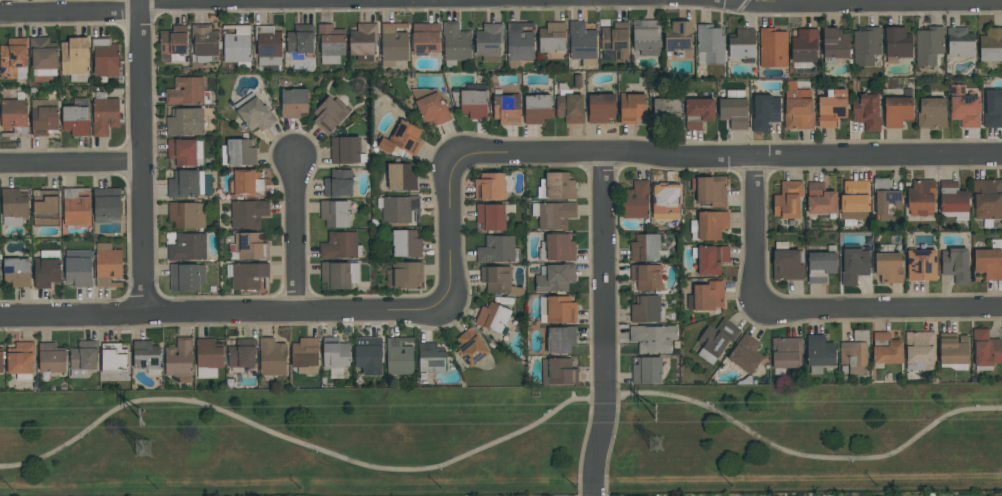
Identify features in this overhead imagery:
road: (587, 0)
road: (740, 2)
road: (757, 3)
road: (70, 13)
building: (646, 37)
building: (552, 38)
building: (425, 39)
building: (678, 39)
building: (616, 40)
building: (362, 41)
building: (489, 41)
building: (204, 42)
building: (298, 42)
building: (455, 42)
building: (959, 42)
building: (330, 43)
building: (393, 43)
building: (518, 43)
building: (582, 43)
building: (173, 44)
building: (709, 44)
building: (897, 44)
building: (237, 45)
building: (268, 45)
building: (741, 45)
building: (834, 45)
building: (991, 45)
building: (865, 46)
building: (928, 46)
building: (773, 48)
building: (804, 48)
building: (43, 55)
building: (13, 57)
building: (105, 57)
building: (75, 58)
building: (187, 91)
building: (473, 101)
building: (293, 103)
building: (569, 105)
building: (430, 106)
building: (506, 107)
building: (601, 107)
building: (632, 107)
building: (797, 107)
building: (963, 107)
building: (537, 108)
building: (831, 108)
building: (993, 108)
building: (734, 109)
building: (898, 109)
building: (666, 111)
building: (866, 111)
building: (698, 112)
building: (764, 112)
building: (254, 113)
building: (931, 113)
building: (104, 114)
building: (330, 114)
building: (14, 116)
building: (44, 117)
building: (76, 118)
building: (185, 121)
building: (401, 139)
building: (346, 150)
building: (185, 152)
building: (238, 153)
road: (727, 156)
road: (141, 157)
road: (71, 162)
building: (402, 176)
building: (186, 183)
building: (247, 183)
building: (338, 183)
building: (489, 186)
building: (556, 186)
building: (710, 190)
building: (921, 198)
building: (952, 198)
building: (820, 199)
building: (635, 200)
building: (788, 200)
building: (855, 200)
building: (886, 200)
building: (987, 200)
building: (666, 201)
building: (106, 205)
building: (14, 206)
building: (75, 207)
building: (46, 208)
building: (400, 209)
building: (248, 212)
building: (335, 213)
building: (553, 214)
building: (187, 215)
building: (492, 216)
building: (708, 225)
road: (760, 234)
road: (453, 235)
road: (298, 237)
building: (406, 243)
building: (248, 246)
building: (340, 246)
building: (188, 247)
building: (557, 247)
building: (646, 248)
building: (497, 250)
building: (709, 258)
building: (989, 261)
building: (787, 262)
building: (821, 264)
building: (955, 264)
building: (107, 265)
building: (854, 265)
building: (921, 265)
building: (78, 267)
building: (888, 267)
building: (47, 268)
building: (17, 272)
building: (339, 274)
building: (407, 274)
building: (186, 276)
building: (248, 276)
building: (555, 277)
building: (646, 277)
building: (499, 280)
building: (706, 296)
building: (560, 309)
building: (645, 309)
road: (881, 309)
road: (226, 314)
building: (492, 317)
road: (603, 325)
building: (652, 338)
building: (560, 339)
building: (716, 339)
building: (470, 347)
building: (885, 349)
building: (985, 349)
building: (920, 350)
building: (953, 351)
building: (242, 353)
building: (335, 353)
building: (819, 353)
building: (855, 353)
building: (746, 354)
building: (785, 354)
building: (305, 355)
building: (368, 355)
building: (399, 355)
building: (51, 357)
building: (146, 357)
building: (208, 357)
building: (272, 357)
building: (83, 358)
building: (113, 358)
building: (431, 358)
building: (179, 359)
building: (1, 360)
building: (21, 360)
building: (558, 371)
building: (646, 371)
power tower: (662, 416)
power tower: (149, 418)
road: (520, 433)
park: (503, 442)
power tower: (151, 445)
power tower: (656, 447)
road: (580, 452)
road: (608, 454)
road: (758, 480)

